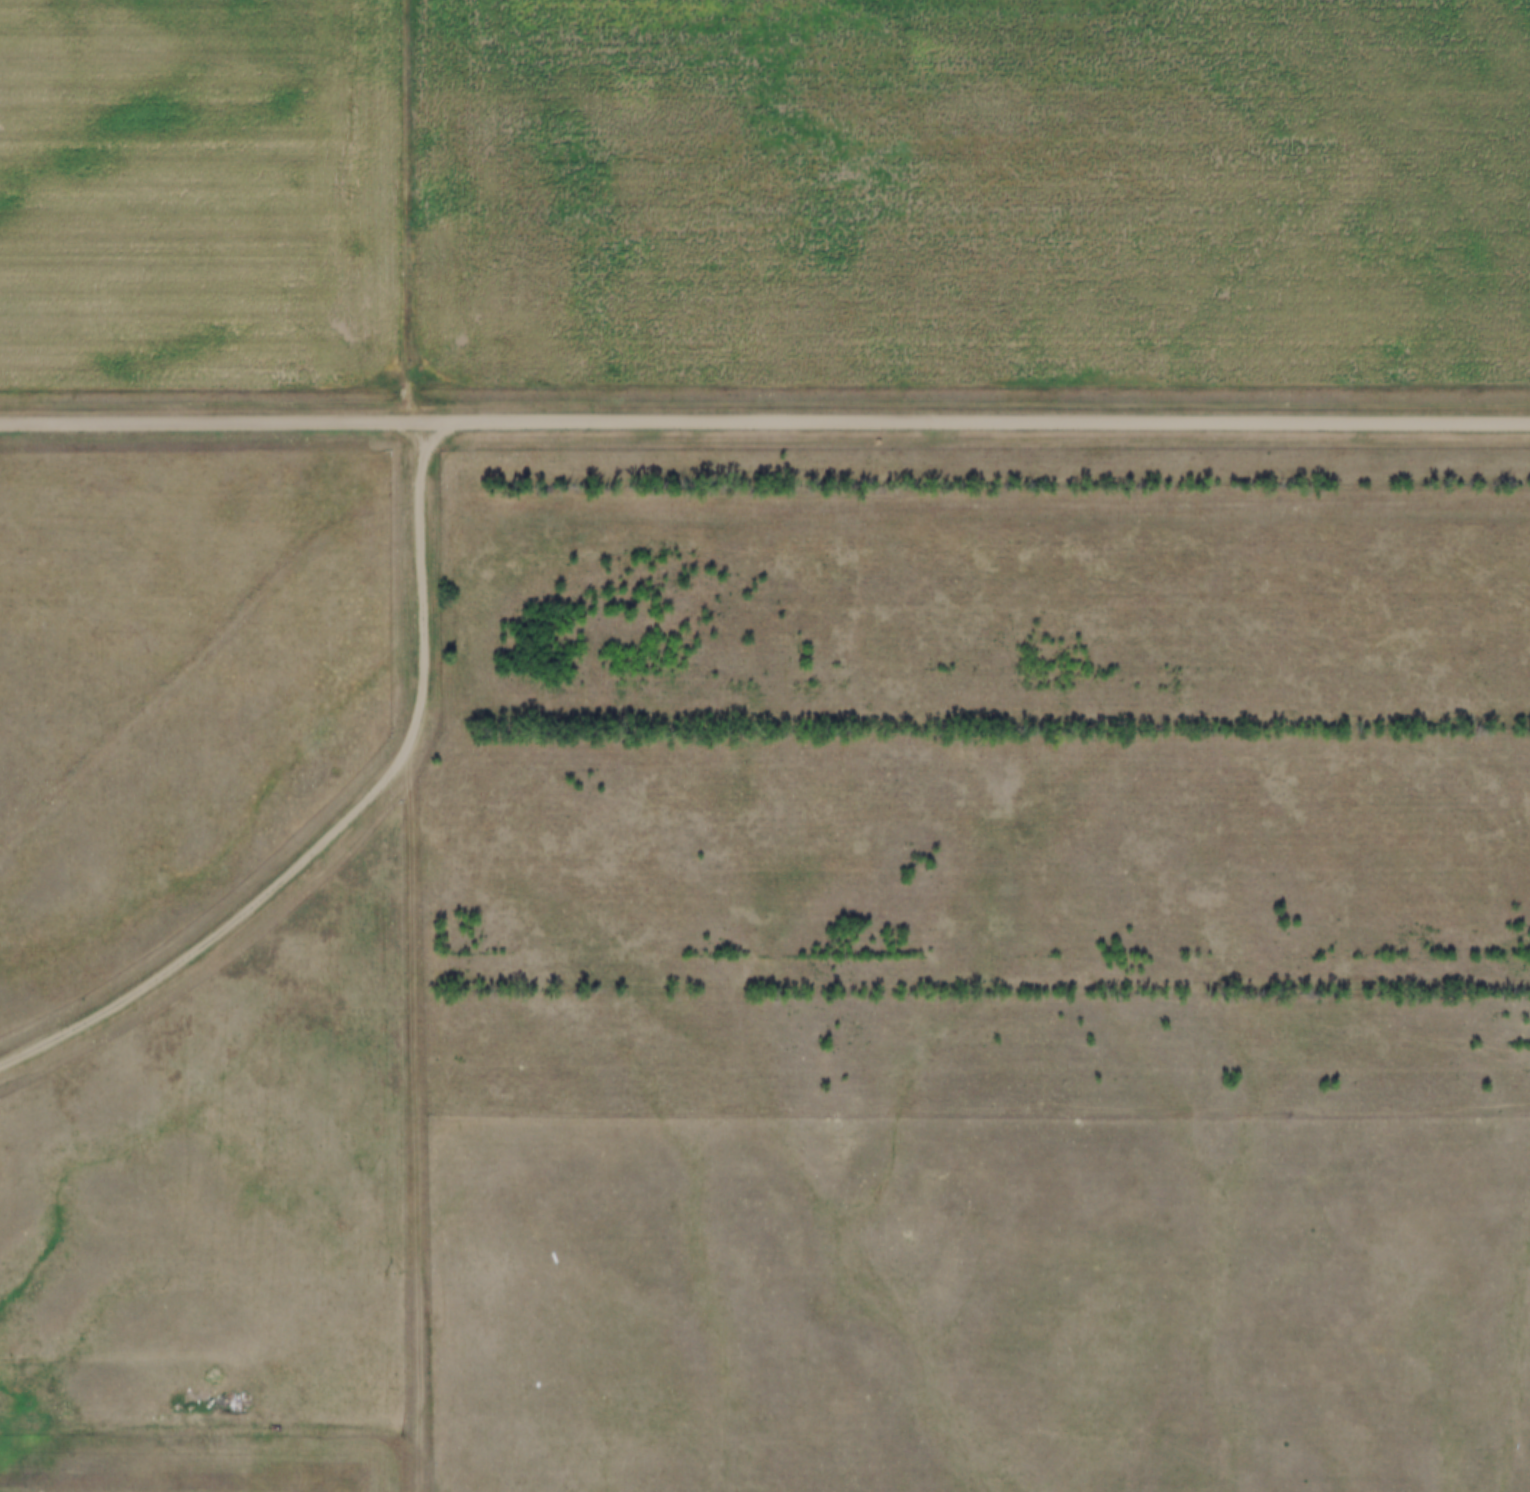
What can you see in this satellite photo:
road: (422, 212)
road: (764, 424)
road: (424, 574)
road: (237, 927)
road: (111, 1362)
road: (764, 1416)

